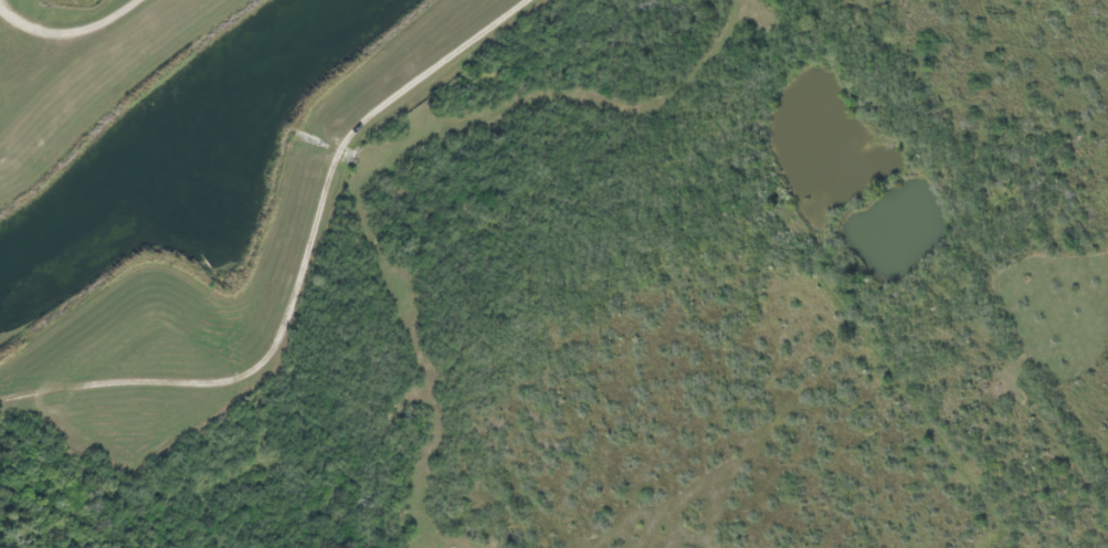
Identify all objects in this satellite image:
road: (71, 31)
road: (299, 273)

